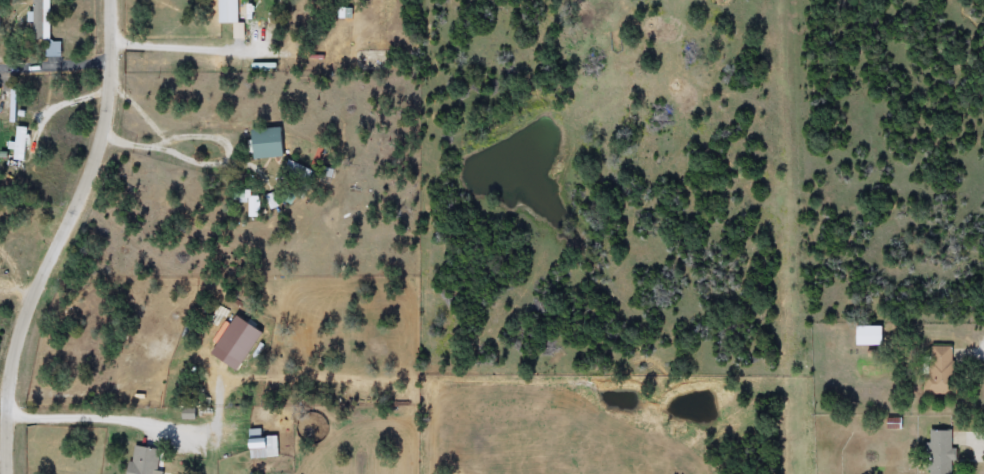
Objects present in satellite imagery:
building: (237, 18)
building: (45, 28)
road: (188, 43)
road: (55, 71)
building: (270, 143)
road: (230, 169)
building: (254, 206)
road: (61, 237)
building: (867, 335)
road: (983, 355)
building: (936, 370)
road: (154, 371)
road: (113, 417)
building: (265, 444)
building: (937, 451)
building: (147, 461)

